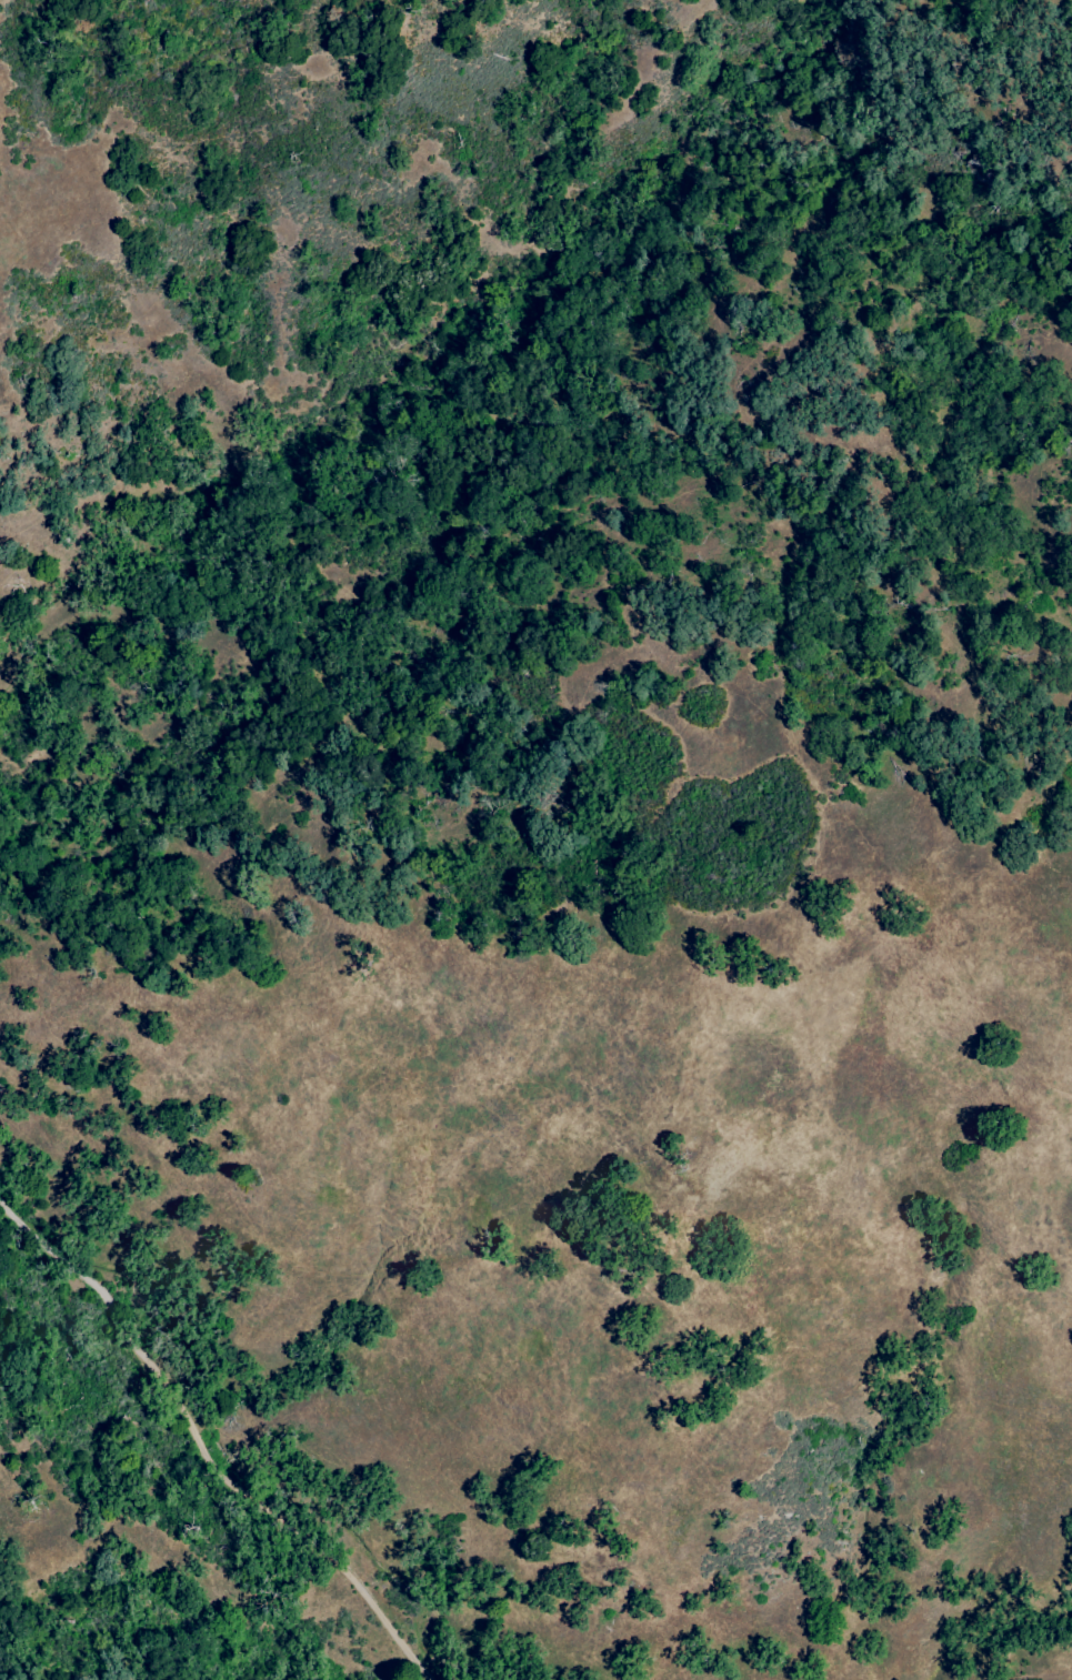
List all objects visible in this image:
road: (203, 1462)

